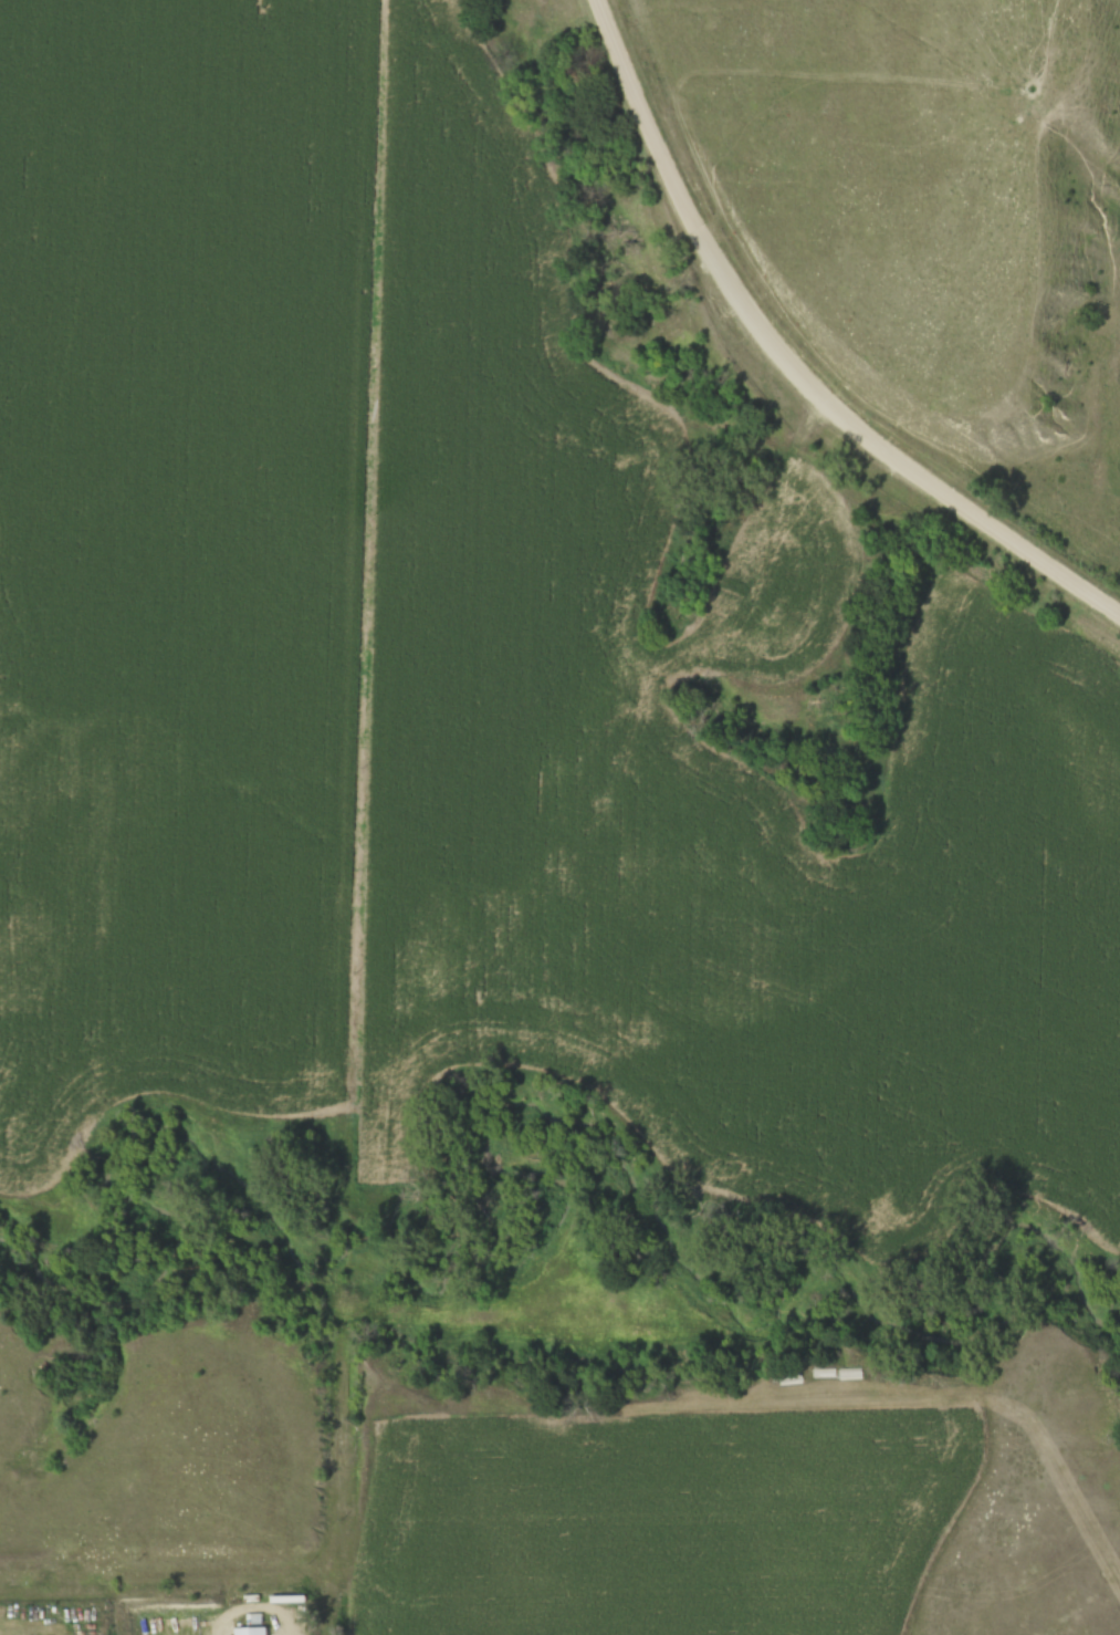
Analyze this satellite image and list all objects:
road: (788, 363)
crop: (669, 1523)
building: (251, 1628)
building: (264, 1634)

